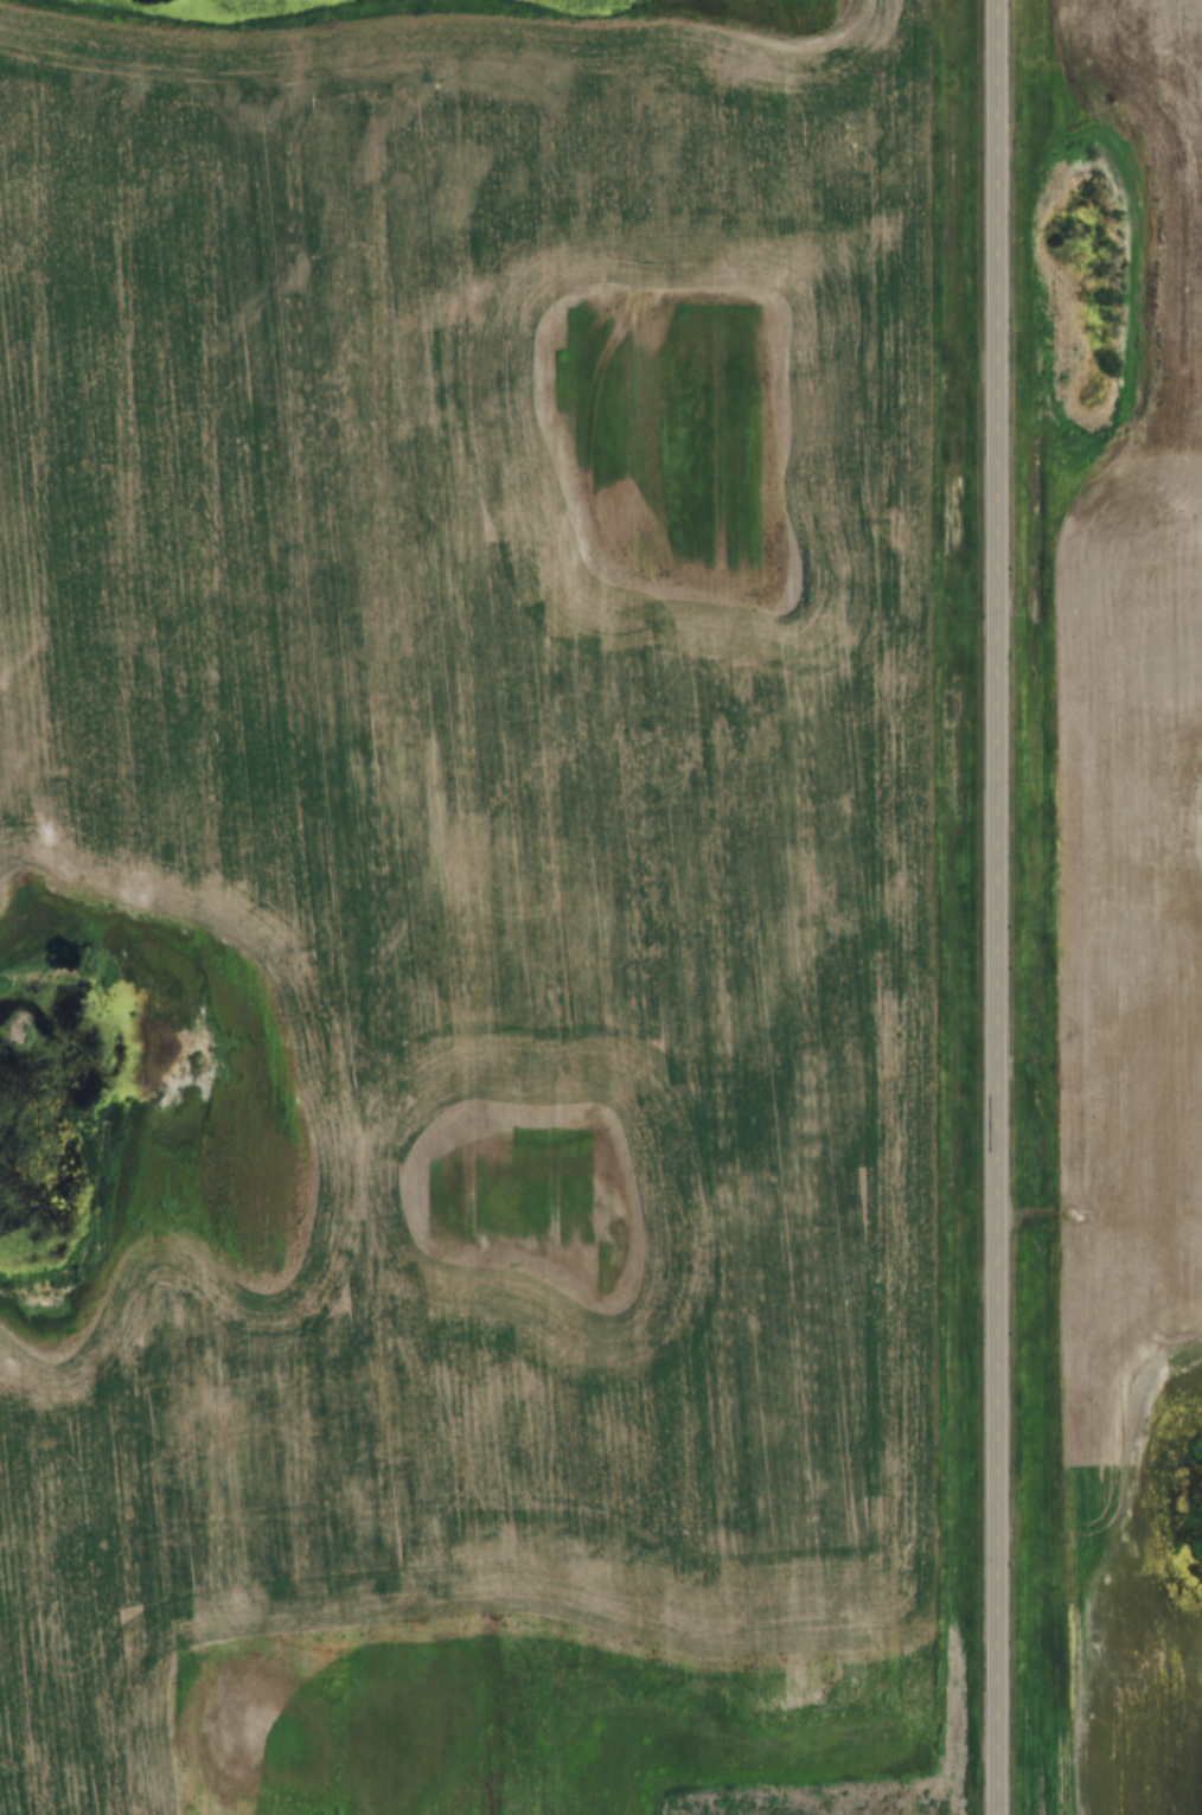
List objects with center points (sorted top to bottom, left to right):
road: (980, 907)

